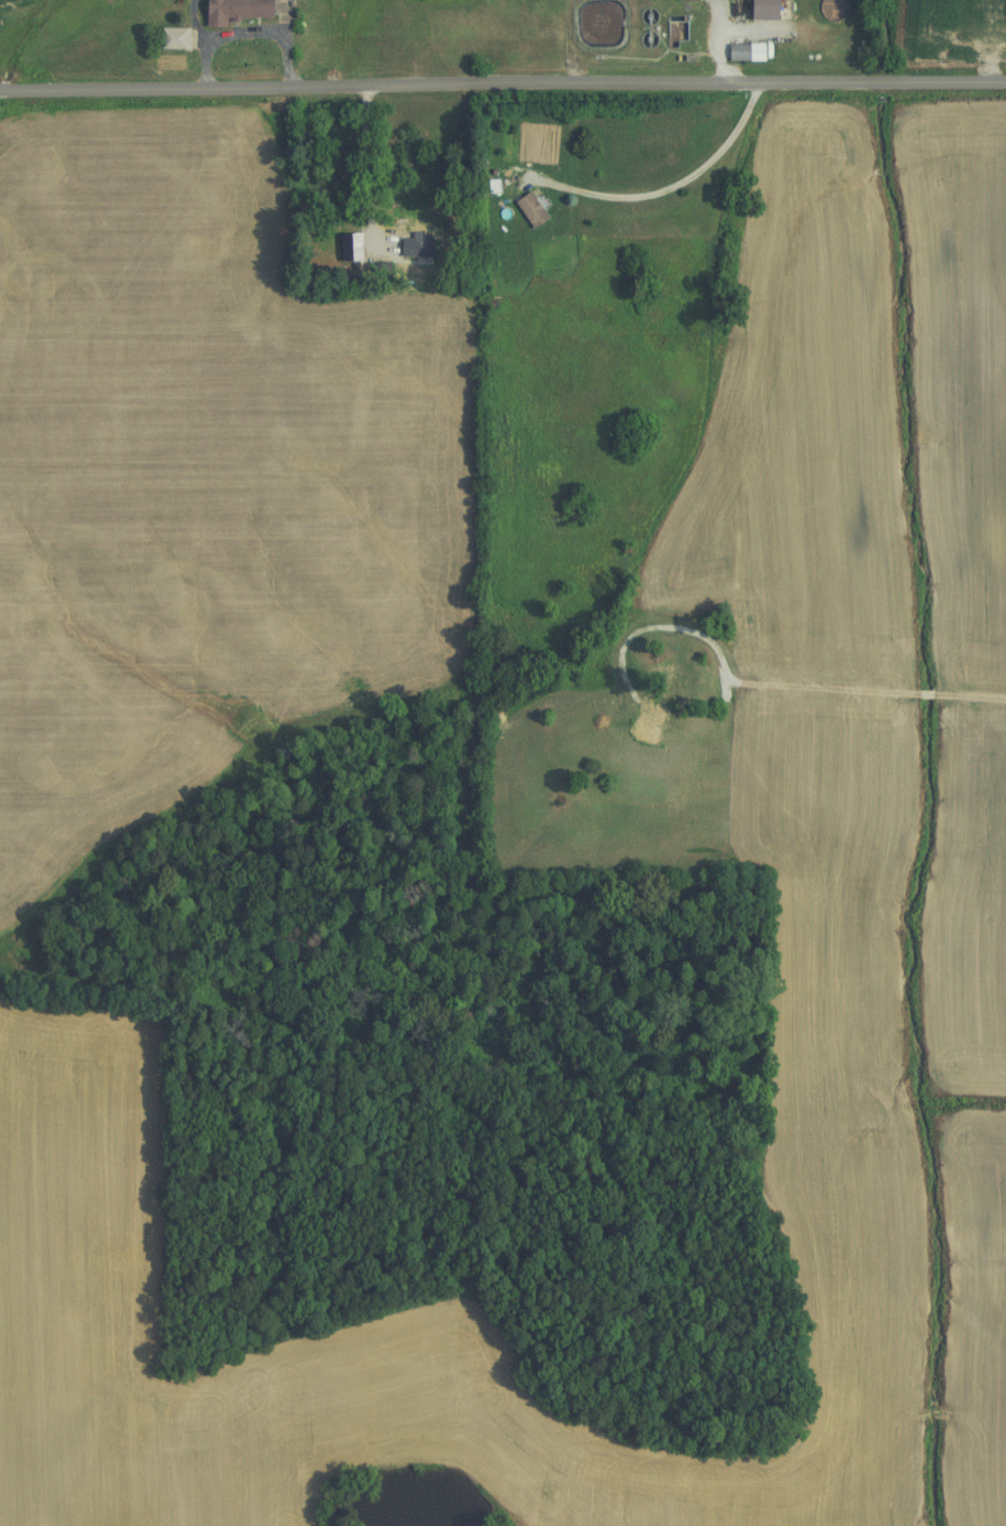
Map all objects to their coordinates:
building: (756, 9)
building: (228, 10)
building: (671, 30)
building: (167, 38)
building: (739, 51)
road: (502, 80)
road: (373, 173)
road: (671, 188)
building: (523, 210)
building: (396, 255)
road: (865, 690)

